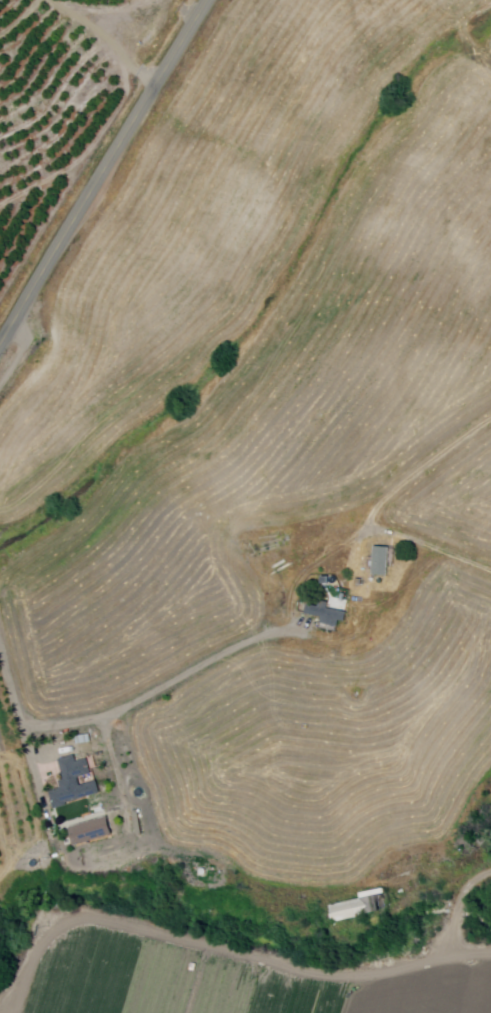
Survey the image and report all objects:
crop: (486, 47)
road: (104, 170)
crop: (208, 221)
crop: (365, 331)
road: (22, 357)
crop: (455, 499)
building: (382, 561)
storage tank: (372, 580)
storage tank: (380, 582)
crop: (123, 599)
building: (327, 614)
road: (291, 625)
road: (10, 684)
crop: (5, 735)
crop: (323, 744)
building: (73, 783)
crop: (14, 819)
building: (92, 831)
road: (487, 882)
building: (361, 906)
crop: (227, 981)

